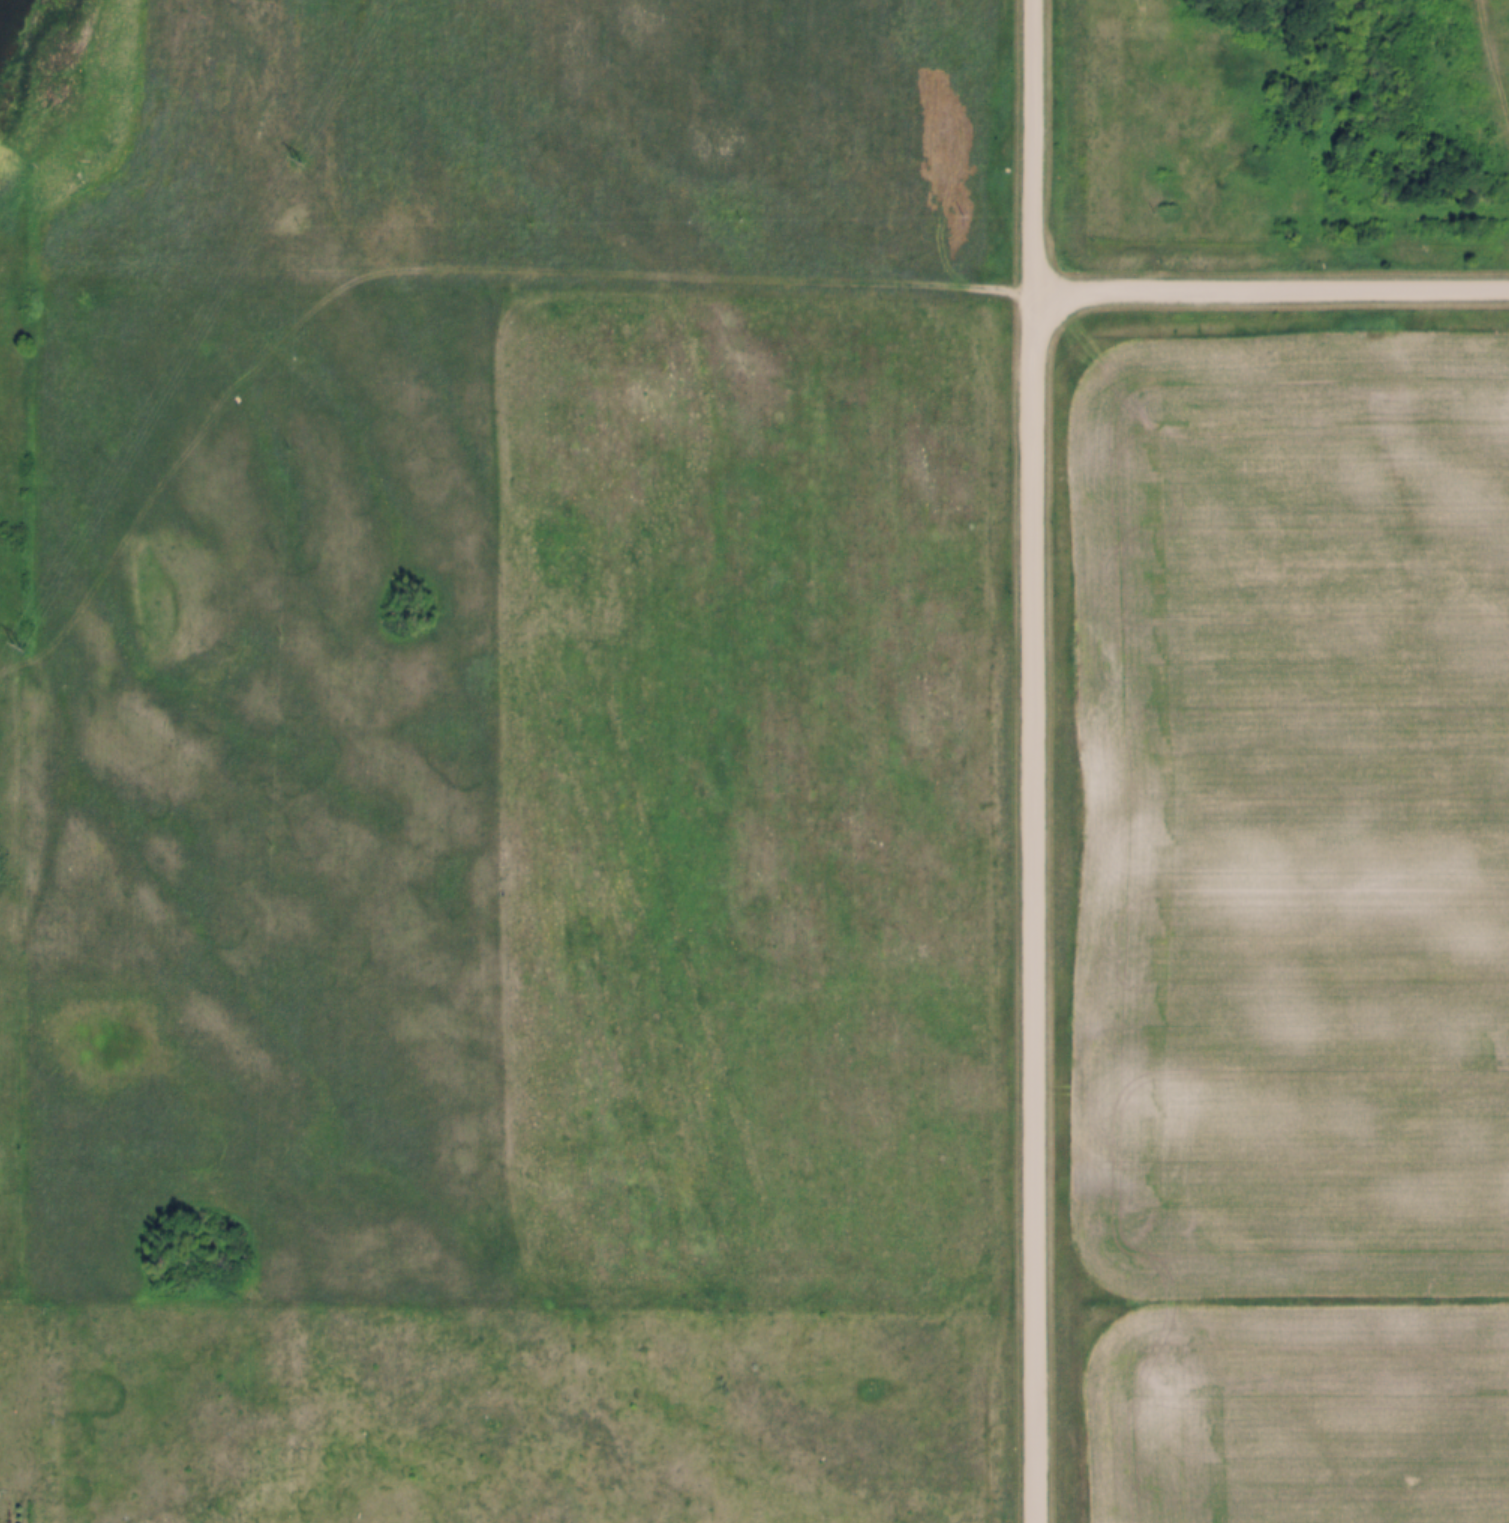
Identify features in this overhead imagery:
road: (1270, 292)
road: (1033, 761)

